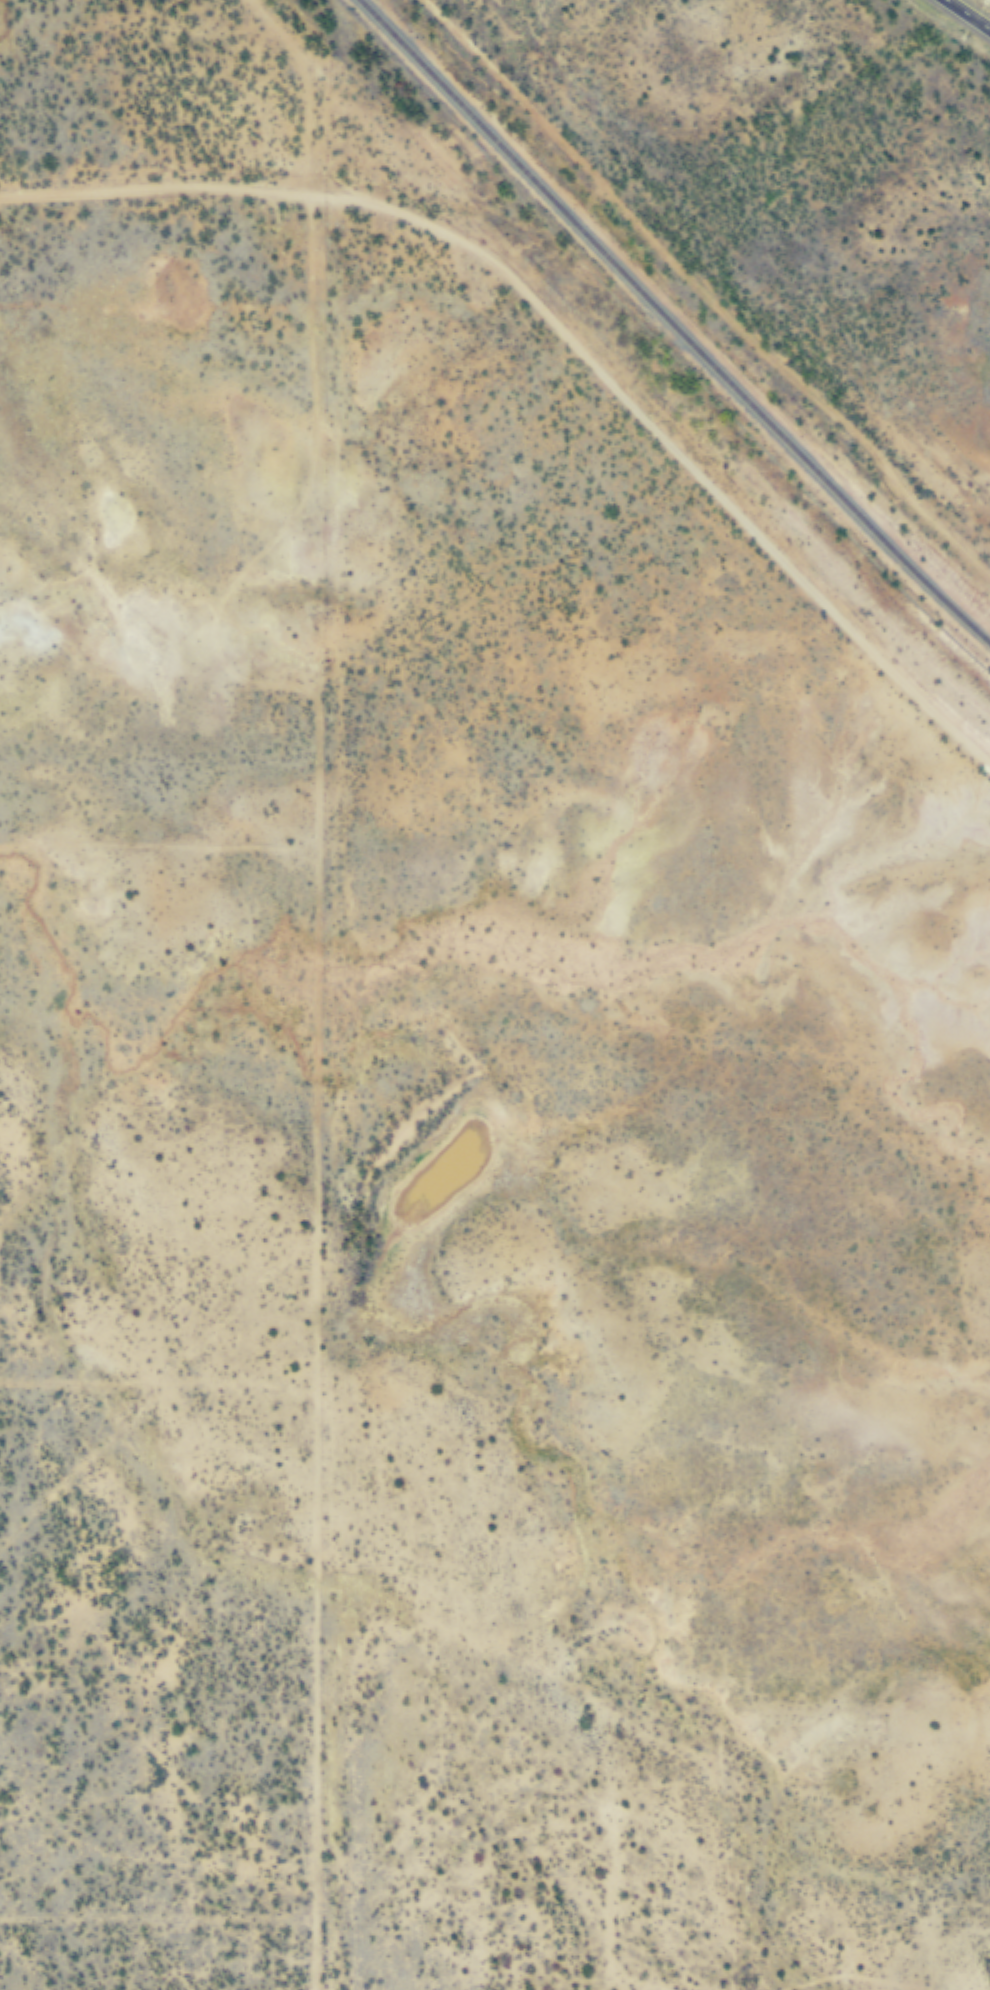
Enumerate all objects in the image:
road: (966, 16)
railway: (670, 325)
road: (557, 344)

